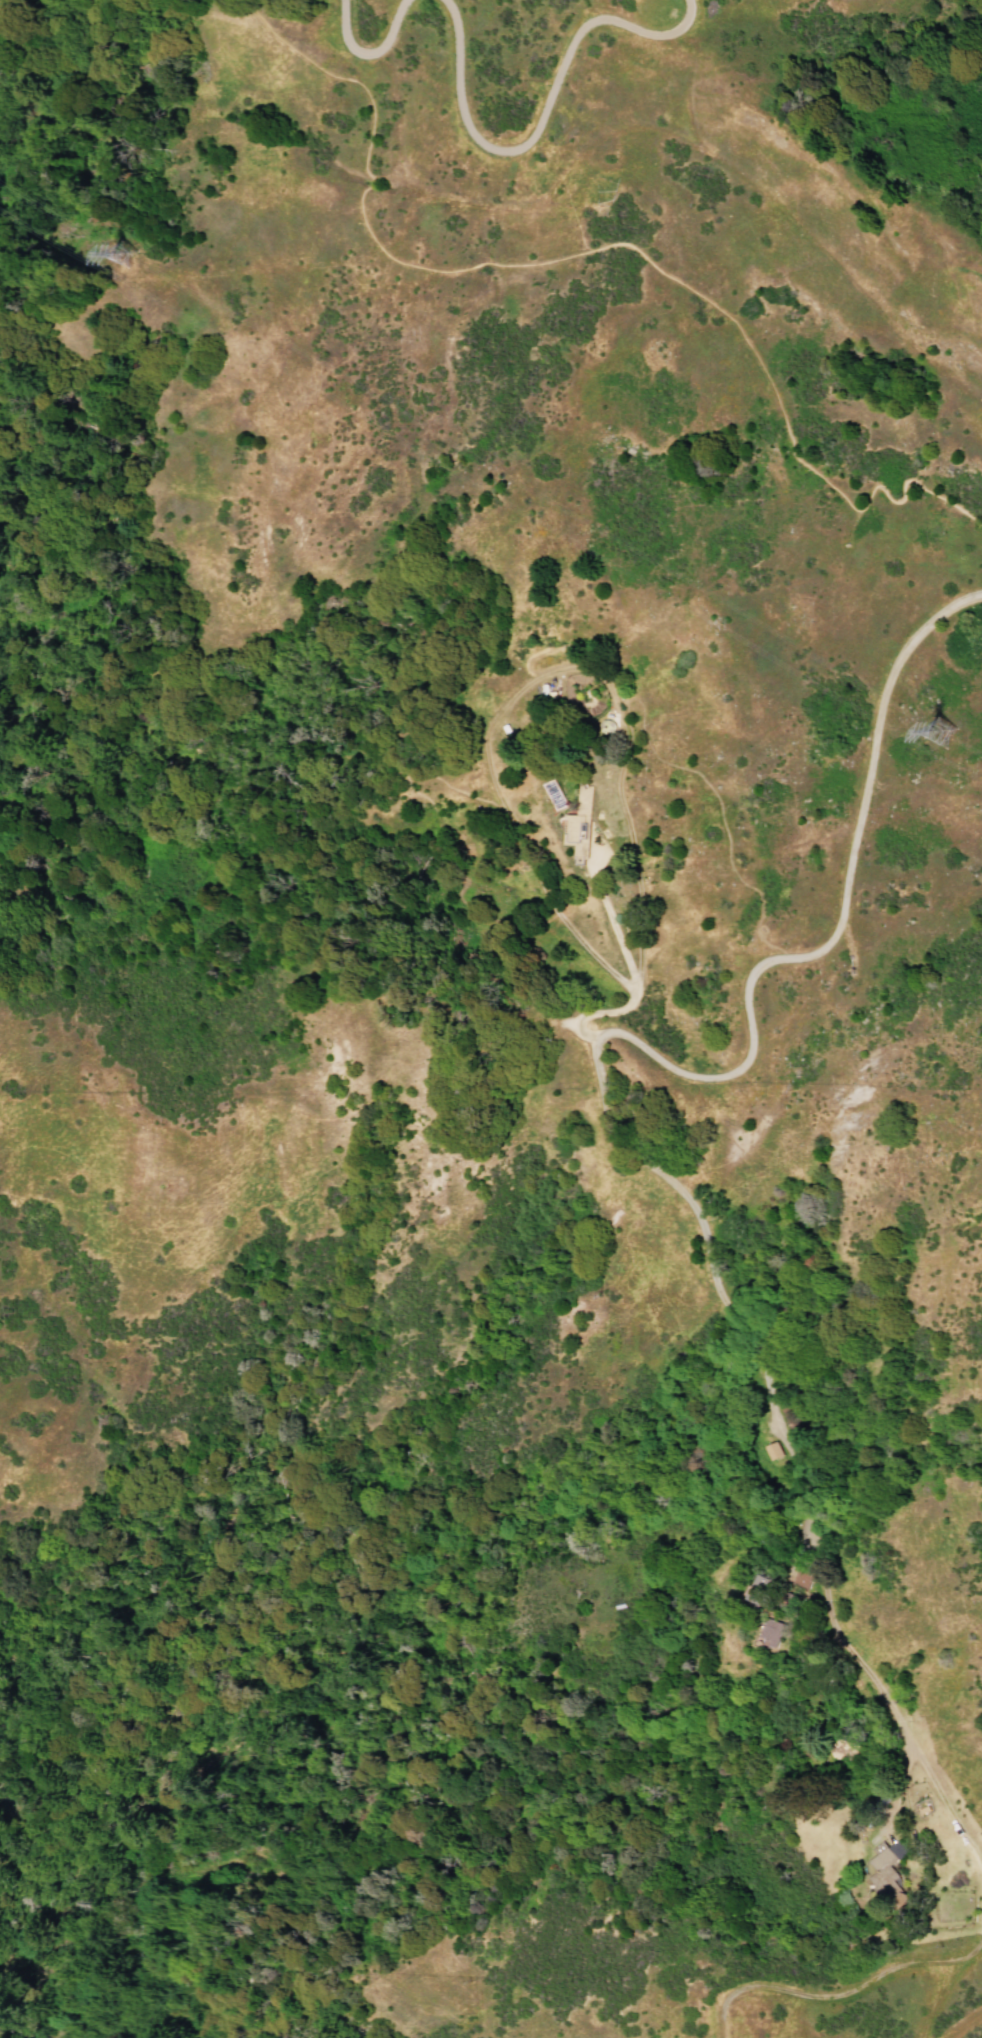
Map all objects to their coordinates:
road: (368, 55)
road: (541, 118)
road: (585, 150)
road: (611, 245)
power tower: (128, 255)
road: (848, 528)
road: (617, 719)
power tower: (948, 734)
road: (717, 812)
building: (580, 826)
road: (839, 919)
road: (628, 973)
road: (790, 1449)
building: (773, 1451)
building: (801, 1575)
building: (770, 1632)
building: (888, 1850)
road: (981, 1929)
road: (947, 1984)
road: (827, 1994)
road: (963, 2023)

